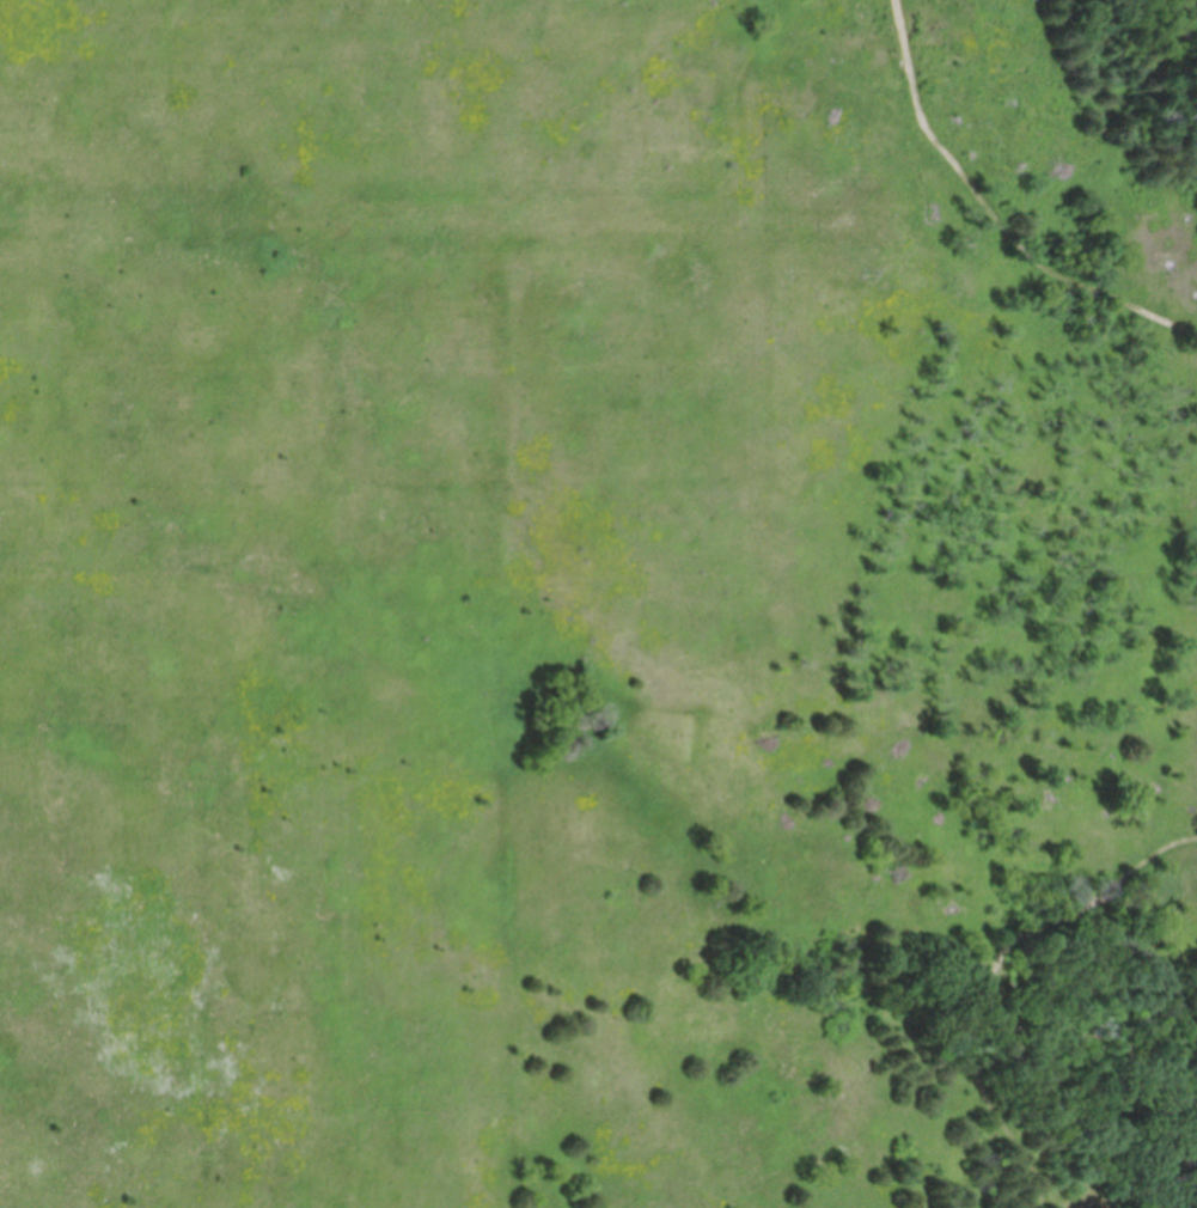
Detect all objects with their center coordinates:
road: (995, 211)
park: (598, 604)
road: (995, 974)
road: (1099, 1021)

